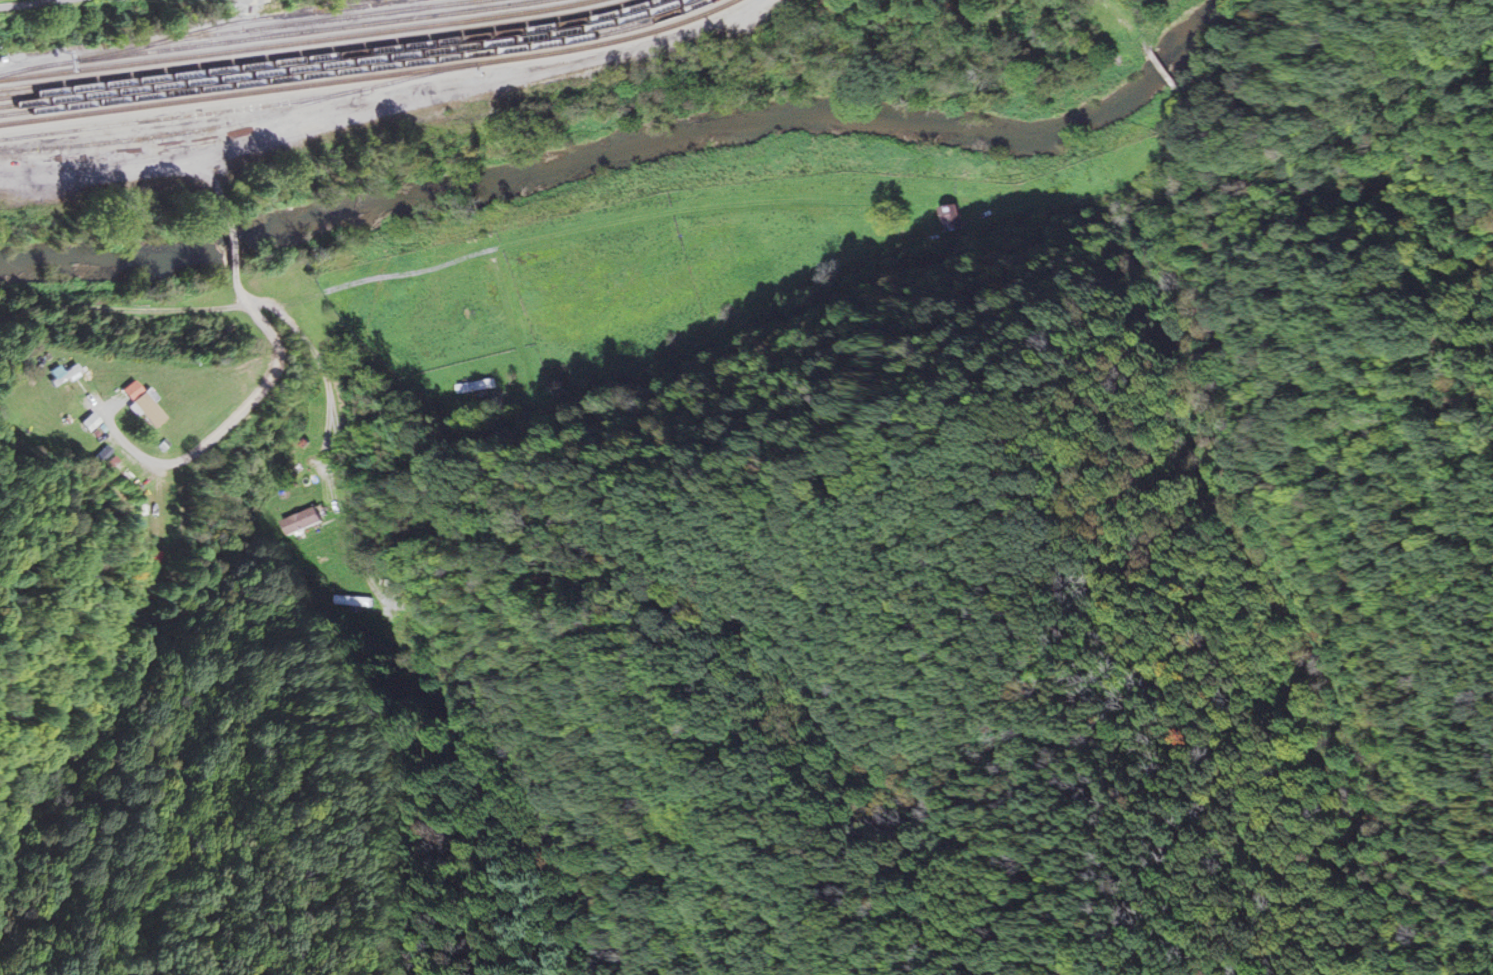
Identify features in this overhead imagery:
road: (30, 3)
railway: (295, 44)
railway: (371, 77)
building: (951, 219)
building: (918, 232)
road: (241, 293)
road: (123, 309)
building: (63, 374)
building: (477, 386)
building: (144, 402)
road: (337, 430)
building: (110, 462)
building: (304, 520)
road: (327, 524)

